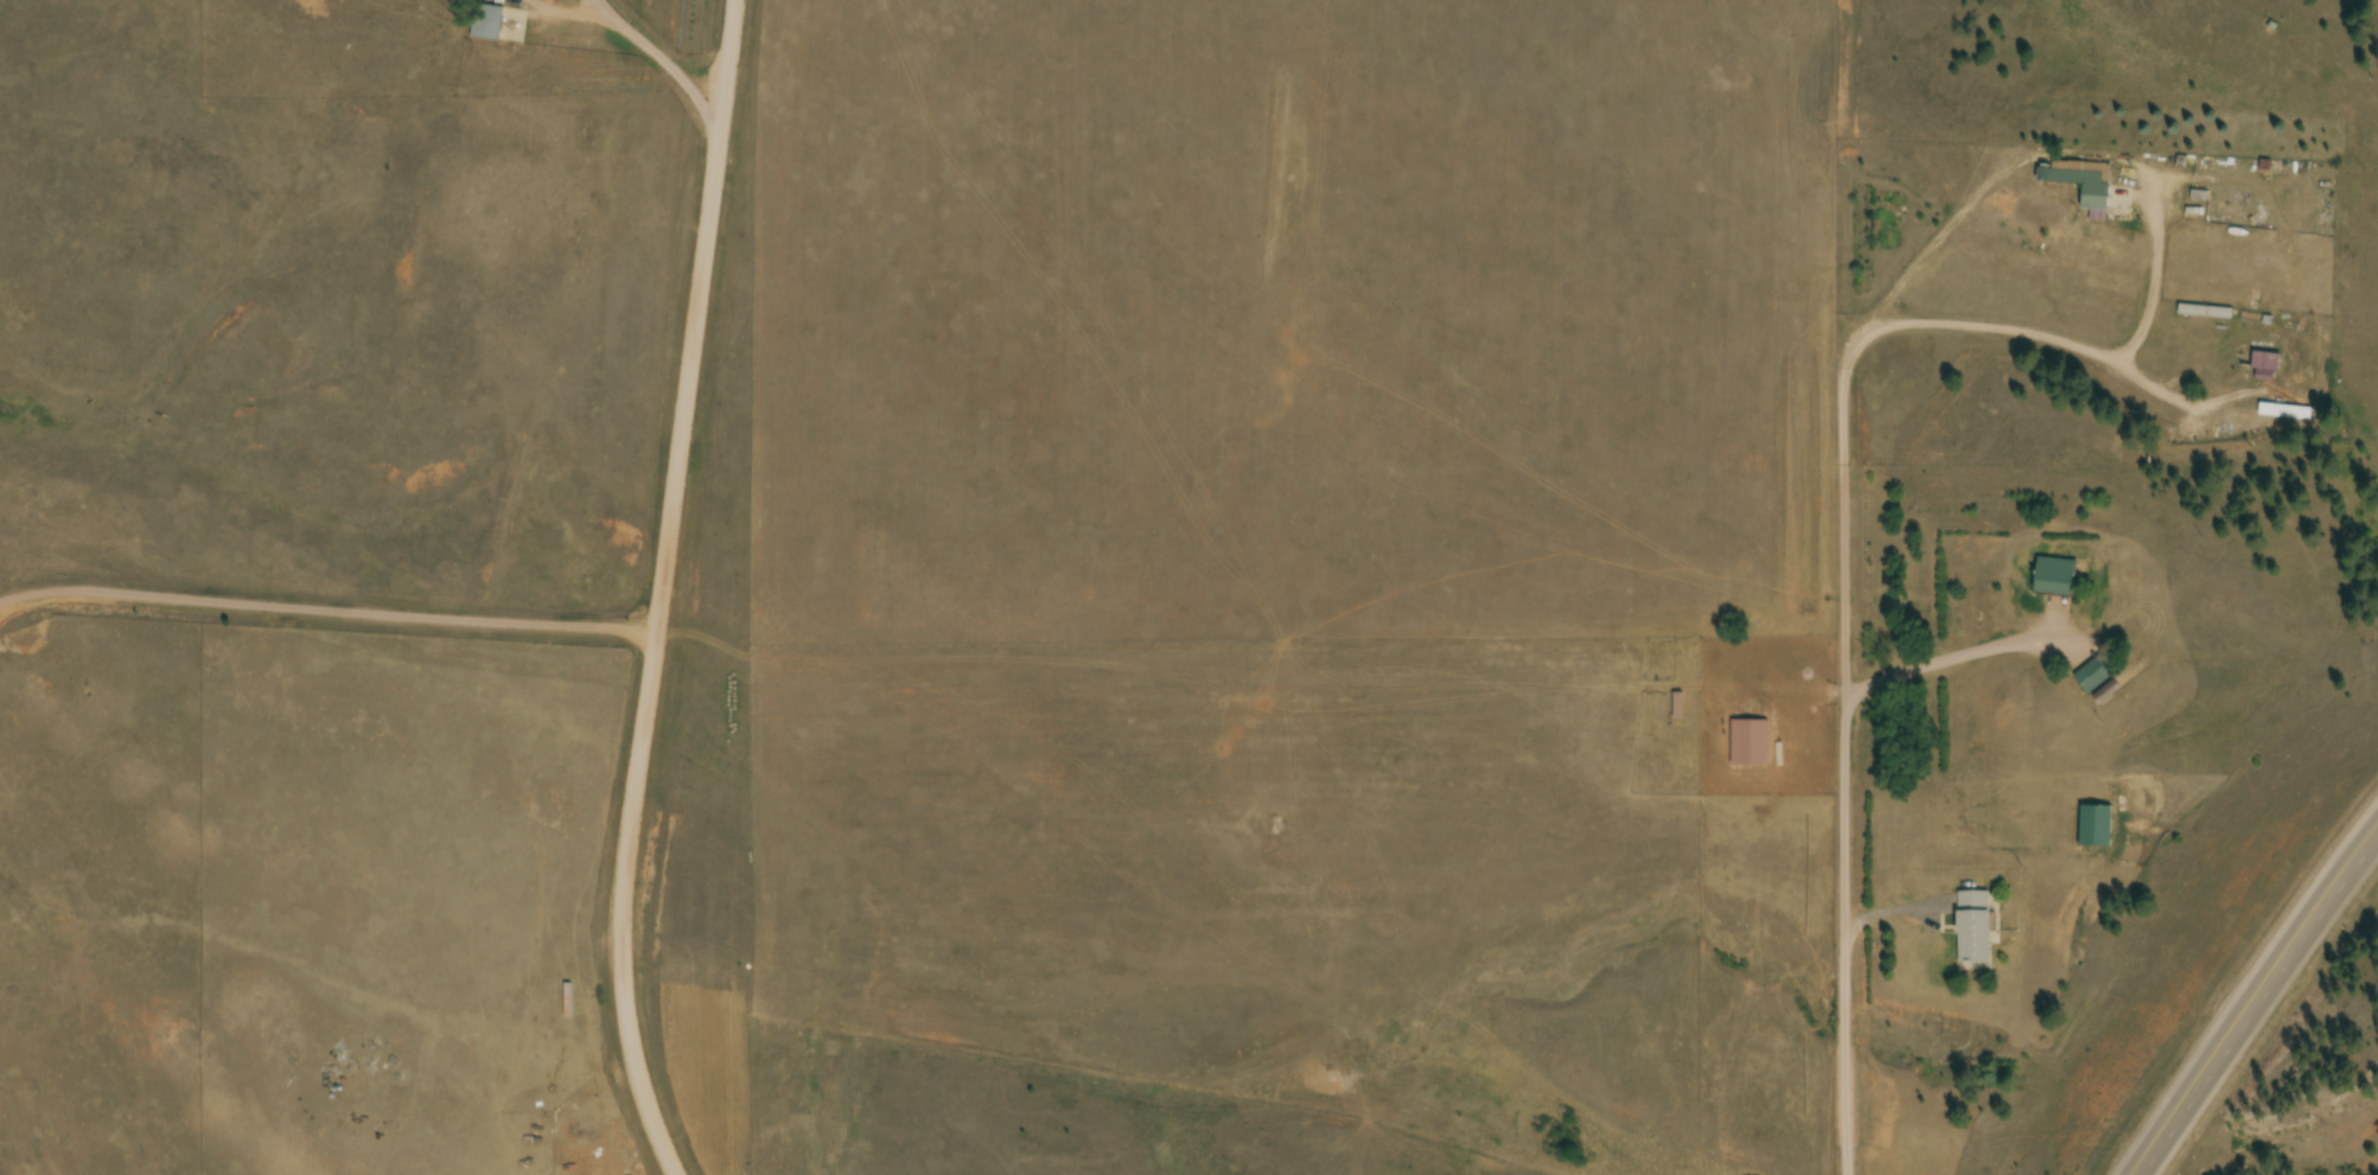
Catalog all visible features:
building: (489, 25)
building: (2083, 181)
road: (2112, 295)
road: (2002, 327)
building: (2267, 368)
building: (2288, 414)
building: (2055, 580)
road: (661, 590)
building: (2099, 673)
building: (1678, 708)
building: (1751, 745)
road: (1847, 767)
building: (2097, 828)
road: (342, 831)
building: (1975, 930)
road: (2248, 1003)

